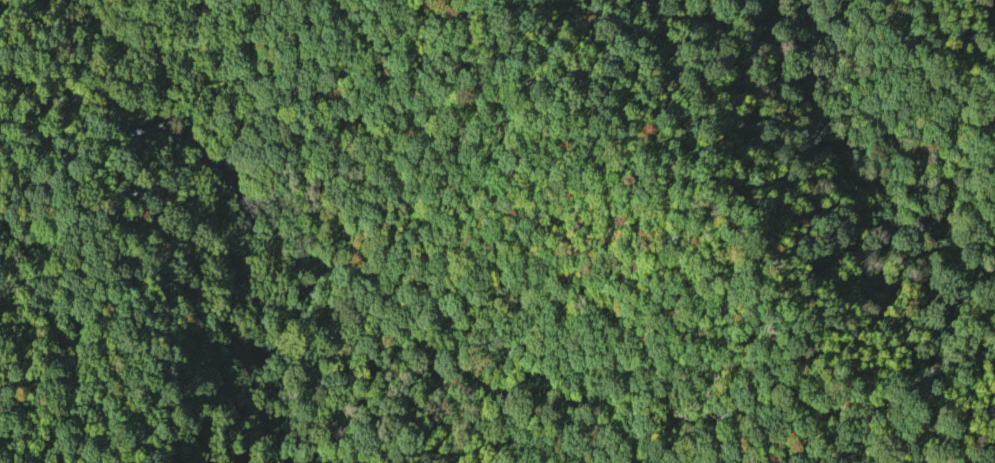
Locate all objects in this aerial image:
road: (906, 385)

